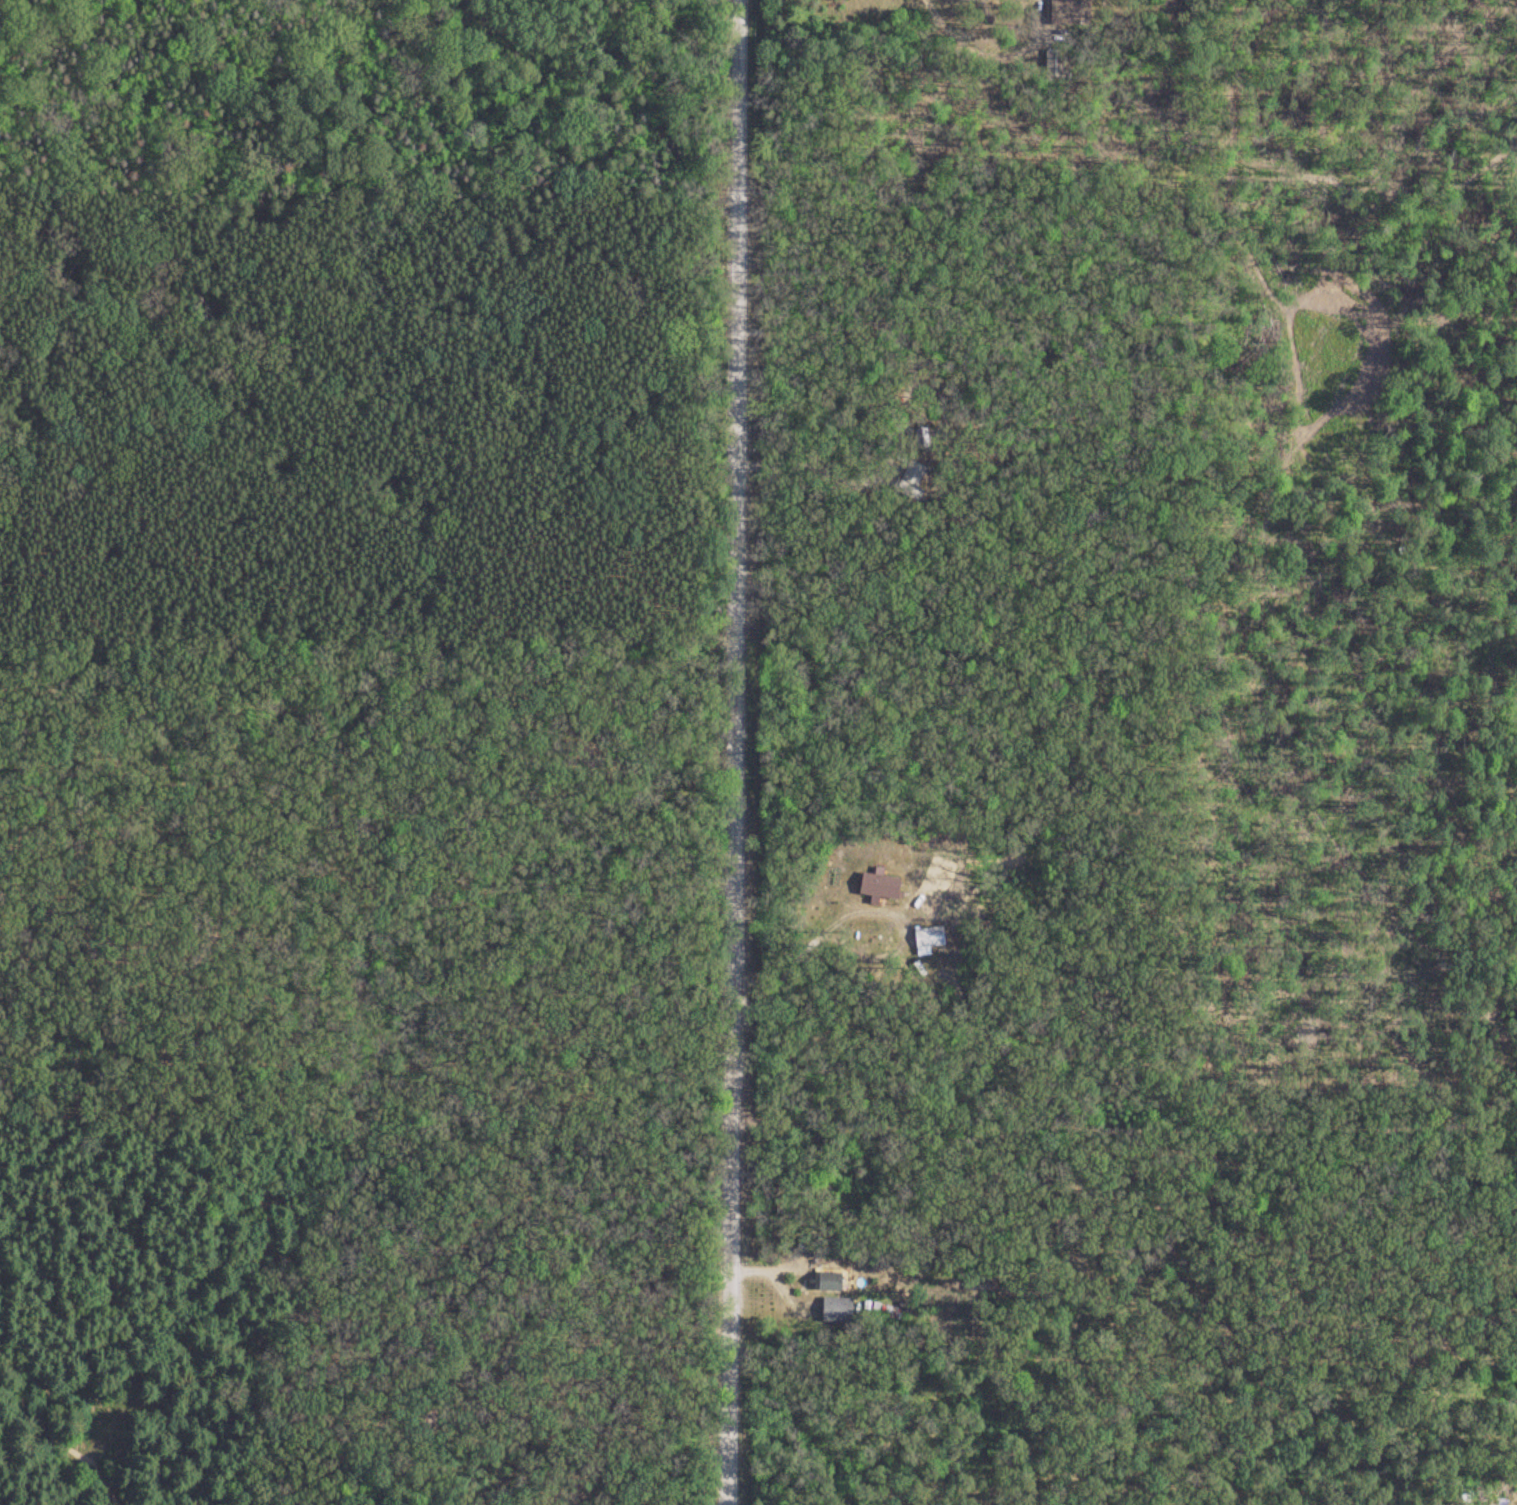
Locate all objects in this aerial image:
road: (719, 752)
road: (1116, 1097)
building: (829, 1281)
building: (835, 1311)
road: (60, 1441)

